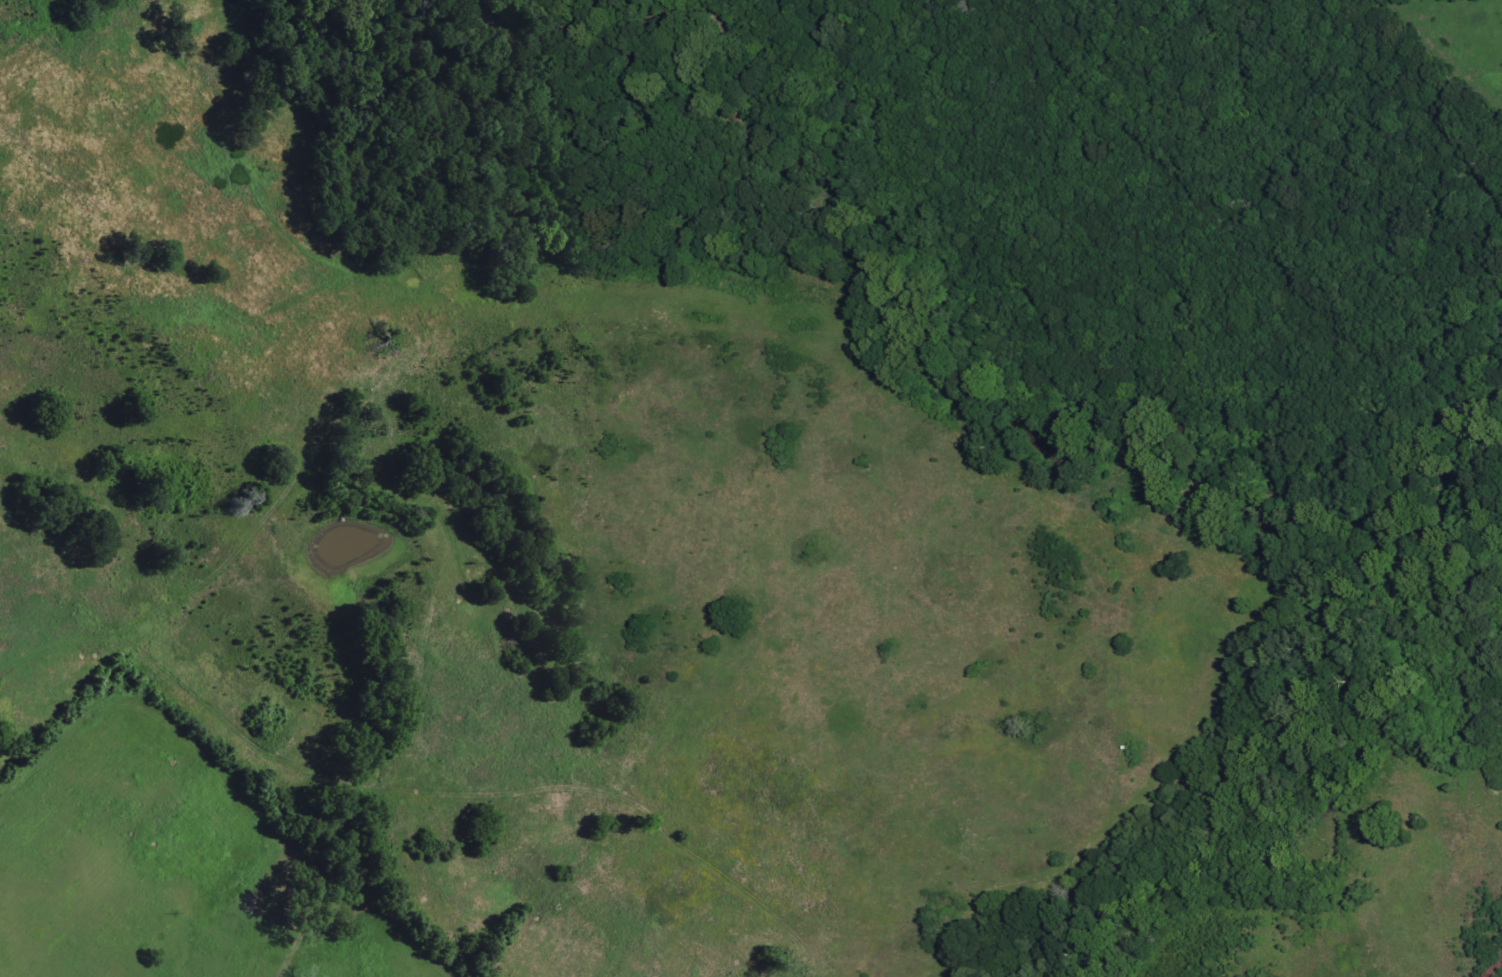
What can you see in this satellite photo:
road: (174, 676)

